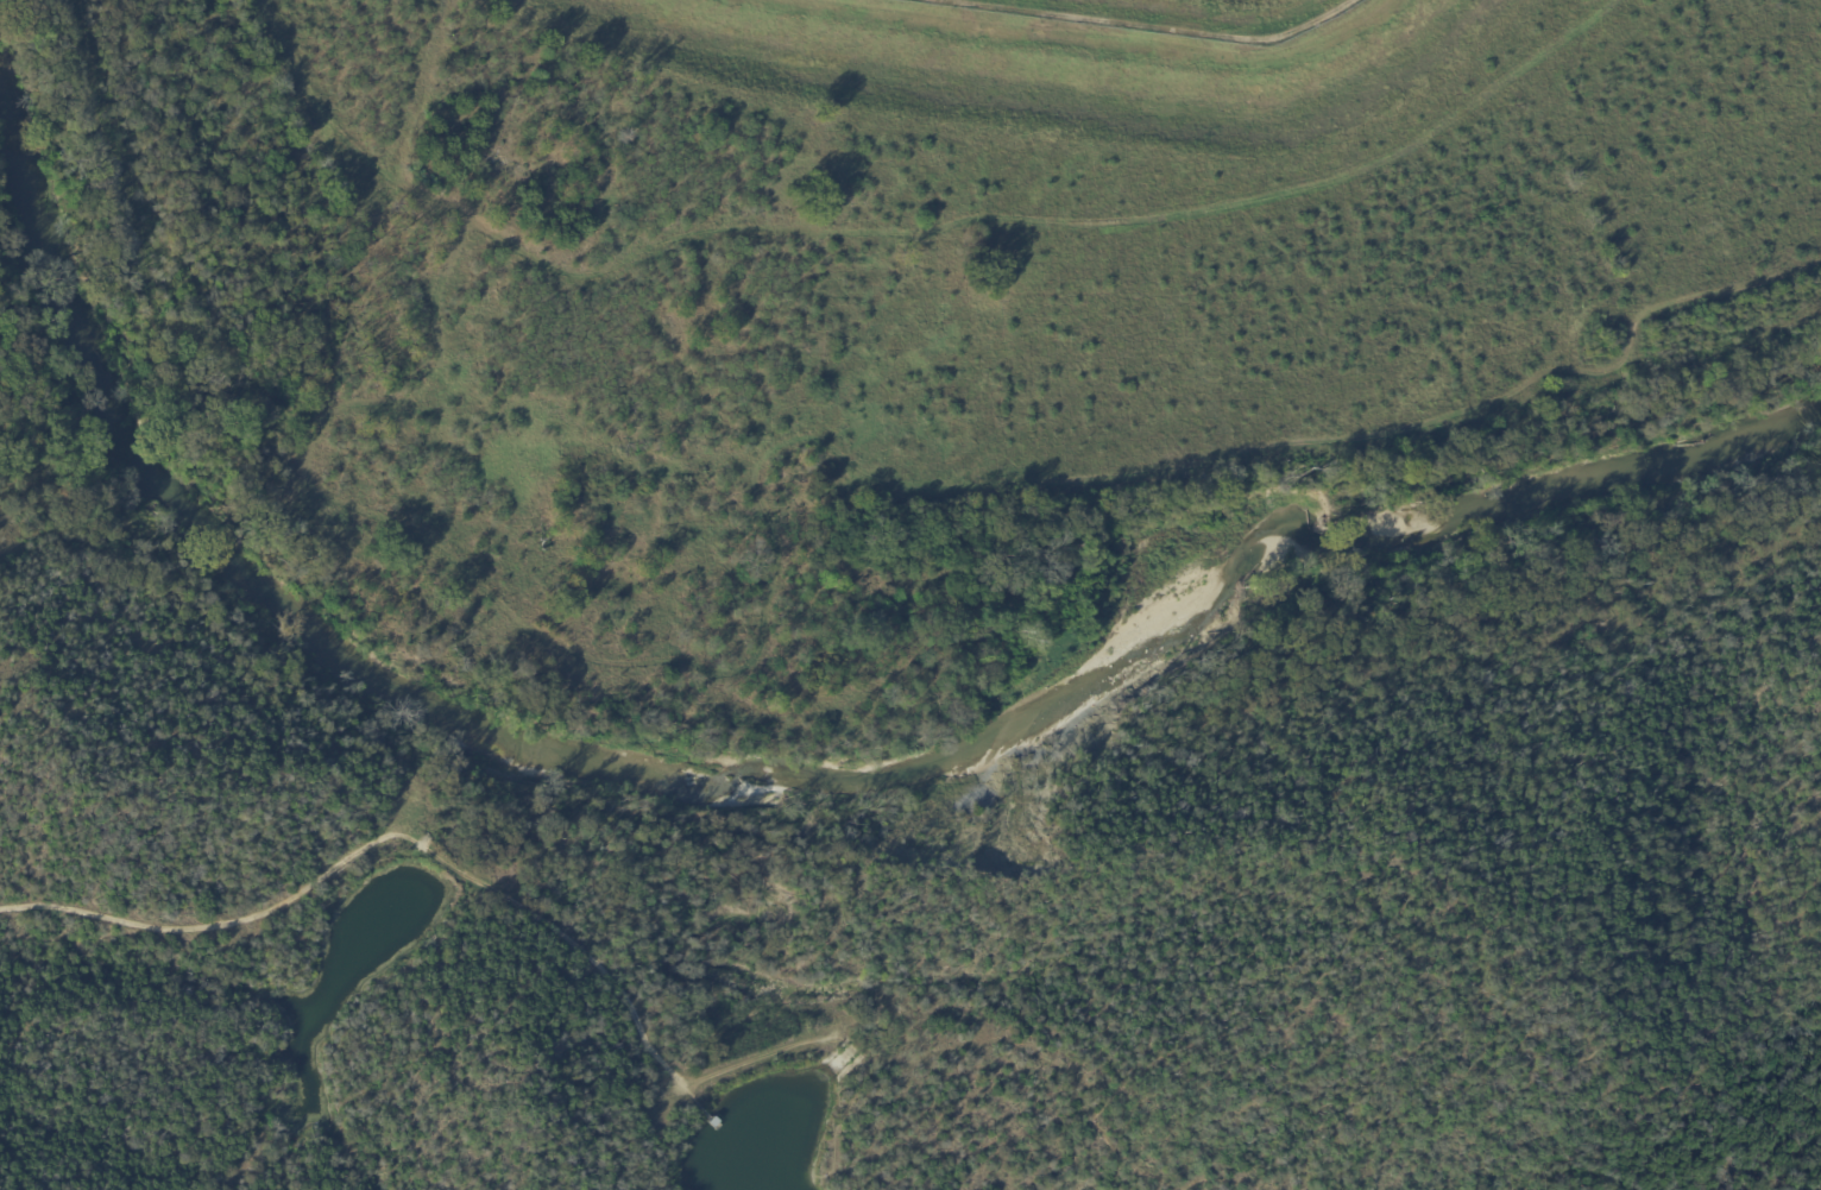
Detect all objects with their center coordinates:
river: (817, 787)
park: (1476, 806)
road: (443, 862)
road: (1385, 875)
road: (430, 1013)
road: (849, 1101)
road: (1224, 1178)

